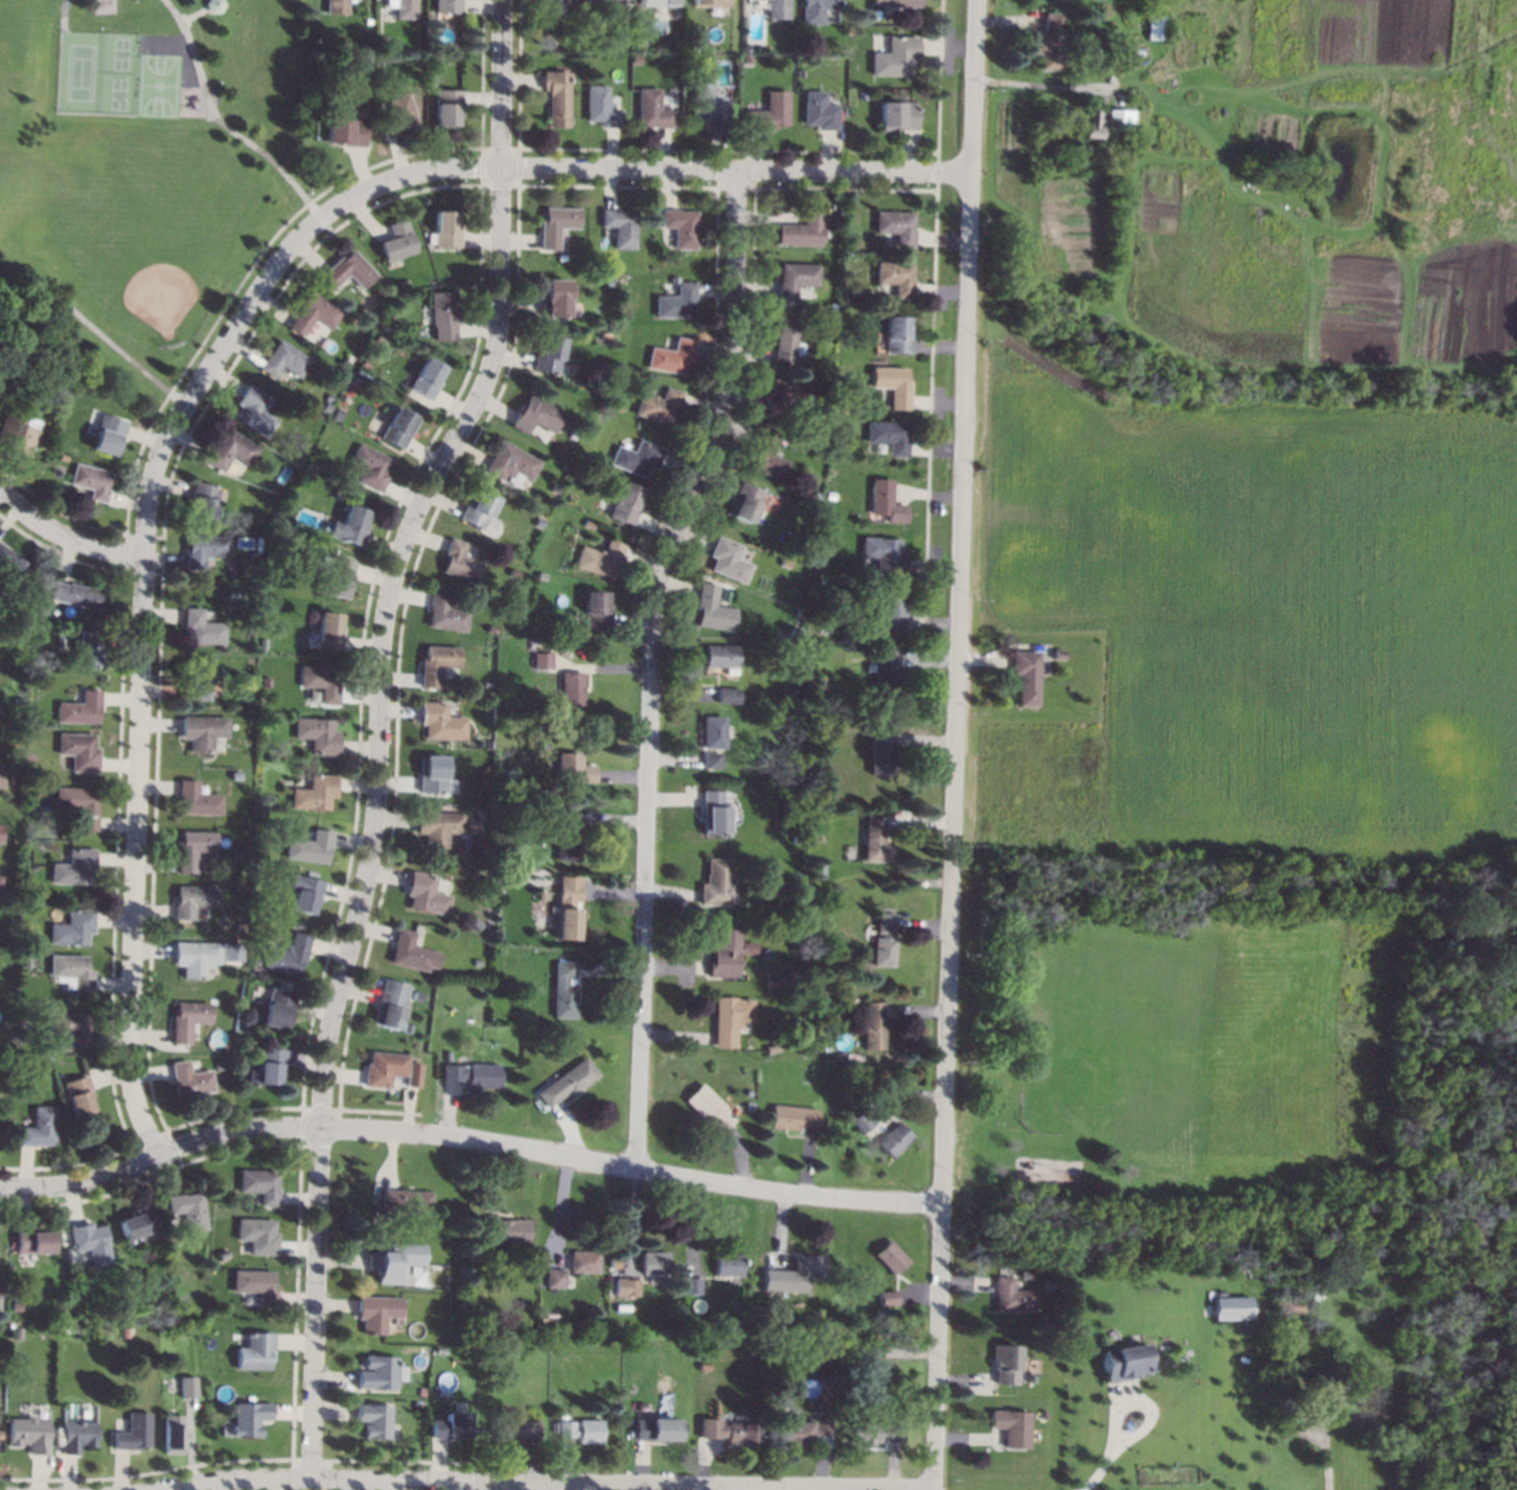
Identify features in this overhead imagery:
building: (657, 1)
building: (897, 2)
building: (710, 3)
building: (214, 4)
building: (448, 5)
building: (336, 6)
building: (613, 7)
building: (405, 8)
building: (551, 8)
building: (777, 8)
building: (815, 10)
building: (1102, 10)
road: (65, 13)
building: (874, 13)
building: (368, 20)
building: (1067, 20)
building: (1155, 26)
building: (381, 41)
building: (1048, 42)
building: (692, 44)
building: (550, 46)
building: (1136, 51)
building: (894, 56)
building: (434, 60)
park: (96, 73)
road: (1042, 87)
park: (159, 88)
building: (861, 94)
building: (555, 96)
building: (363, 105)
building: (446, 105)
building: (601, 106)
building: (707, 106)
building: (652, 108)
building: (817, 110)
building: (768, 111)
building: (896, 114)
building: (398, 116)
building: (1117, 116)
road: (218, 120)
building: (1091, 121)
building: (345, 131)
building: (1119, 132)
road: (738, 165)
park: (146, 178)
building: (556, 224)
building: (895, 225)
building: (620, 226)
building: (680, 226)
building: (445, 228)
building: (801, 230)
building: (395, 240)
building: (561, 257)
park: (156, 270)
building: (347, 270)
building: (895, 276)
building: (794, 277)
building: (611, 281)
building: (403, 283)
building: (553, 297)
building: (842, 299)
building: (676, 300)
building: (312, 312)
building: (443, 314)
building: (896, 333)
building: (784, 339)
building: (548, 352)
building: (671, 355)
building: (346, 358)
building: (283, 359)
building: (17, 372)
building: (361, 373)
building: (426, 378)
building: (892, 384)
building: (784, 394)
building: (323, 405)
building: (659, 405)
building: (252, 410)
building: (335, 412)
building: (536, 414)
building: (398, 427)
building: (16, 431)
building: (107, 433)
building: (572, 433)
building: (888, 435)
building: (54, 442)
crop: (1262, 445)
building: (559, 447)
building: (227, 449)
building: (765, 455)
building: (62, 457)
building: (637, 457)
building: (510, 461)
building: (369, 466)
building: (90, 480)
building: (554, 487)
building: (828, 495)
building: (201, 499)
building: (744, 499)
building: (885, 500)
building: (626, 502)
building: (477, 508)
building: (539, 522)
building: (589, 523)
building: (349, 525)
building: (828, 533)
road: (64, 536)
building: (277, 538)
building: (203, 548)
building: (884, 553)
building: (253, 555)
building: (599, 558)
building: (727, 558)
building: (459, 560)
building: (9, 561)
building: (783, 562)
road: (143, 564)
building: (513, 571)
building: (336, 575)
building: (542, 576)
building: (75, 594)
building: (596, 608)
building: (711, 608)
building: (889, 611)
building: (445, 612)
building: (799, 612)
building: (201, 626)
building: (525, 627)
building: (825, 627)
building: (247, 629)
building: (328, 630)
building: (87, 647)
building: (769, 647)
road: (651, 655)
building: (718, 657)
building: (542, 659)
building: (36, 662)
building: (437, 662)
building: (887, 673)
building: (1026, 675)
building: (821, 680)
building: (195, 681)
building: (321, 681)
building: (571, 687)
building: (727, 694)
building: (264, 697)
building: (18, 700)
building: (80, 708)
building: (31, 718)
building: (441, 721)
road: (377, 729)
building: (837, 729)
building: (202, 730)
building: (711, 731)
building: (317, 734)
building: (820, 738)
building: (545, 745)
road: (956, 745)
building: (78, 750)
building: (880, 750)
building: (489, 758)
building: (710, 758)
building: (571, 767)
building: (431, 773)
building: (0, 778)
building: (13, 779)
building: (29, 787)
building: (315, 792)
building: (502, 795)
building: (195, 798)
building: (77, 804)
building: (711, 812)
building: (0, 825)
building: (436, 826)
building: (566, 834)
building: (874, 838)
building: (310, 846)
building: (191, 848)
building: (234, 855)
building: (74, 866)
building: (817, 867)
building: (714, 881)
building: (305, 892)
building: (425, 893)
building: (541, 894)
building: (809, 897)
building: (192, 899)
building: (793, 906)
building: (567, 909)
building: (476, 923)
building: (297, 924)
building: (72, 927)
building: (884, 939)
building: (242, 942)
building: (745, 945)
building: (408, 950)
building: (230, 951)
building: (288, 953)
building: (723, 953)
building: (194, 957)
building: (26, 960)
building: (476, 962)
building: (808, 966)
building: (70, 971)
building: (769, 981)
building: (816, 986)
building: (563, 989)
building: (278, 1007)
building: (388, 1008)
building: (730, 1018)
building: (186, 1019)
building: (20, 1024)
building: (71, 1025)
building: (873, 1025)
building: (408, 1027)
building: (804, 1035)
building: (249, 1039)
building: (772, 1047)
building: (448, 1055)
building: (849, 1055)
building: (857, 1056)
park: (1093, 1058)
building: (218, 1066)
building: (267, 1066)
building: (383, 1067)
building: (855, 1070)
building: (472, 1073)
building: (413, 1074)
park: (1244, 1075)
building: (189, 1079)
building: (567, 1081)
building: (864, 1087)
building: (77, 1094)
building: (749, 1104)
building: (708, 1108)
building: (792, 1116)
building: (862, 1120)
building: (37, 1127)
road: (468, 1138)
building: (894, 1138)
building: (260, 1184)
building: (405, 1200)
building: (188, 1209)
building: (137, 1224)
building: (506, 1229)
building: (257, 1235)
building: (32, 1239)
building: (91, 1241)
building: (68, 1255)
building: (890, 1255)
building: (394, 1260)
building: (584, 1261)
building: (654, 1262)
building: (727, 1263)
building: (807, 1265)
building: (122, 1274)
building: (1025, 1274)
building: (556, 1277)
building: (255, 1284)
building: (496, 1284)
building: (691, 1284)
building: (626, 1285)
building: (777, 1286)
building: (887, 1296)
building: (1010, 1296)
building: (1290, 1305)
building: (12, 1306)
building: (1231, 1307)
building: (375, 1311)
river: (1471, 1311)
building: (545, 1314)
building: (66, 1329)
building: (17, 1332)
building: (804, 1339)
building: (458, 1340)
building: (256, 1351)
building: (489, 1356)
building: (1004, 1362)
building: (1123, 1363)
building: (702, 1364)
building: (377, 1371)
building: (1324, 1378)
building: (188, 1386)
building: (420, 1391)
road: (1145, 1403)
building: (1042, 1413)
building: (249, 1417)
building: (373, 1419)
building: (447, 1425)
building: (1011, 1426)
building: (515, 1428)
building: (581, 1429)
building: (658, 1429)
building: (801, 1429)
building: (729, 1430)
building: (134, 1432)
building: (874, 1432)
building: (172, 1433)
building: (29, 1434)
building: (78, 1435)
road: (1328, 1460)
road: (1103, 1467)
road: (545, 1483)

